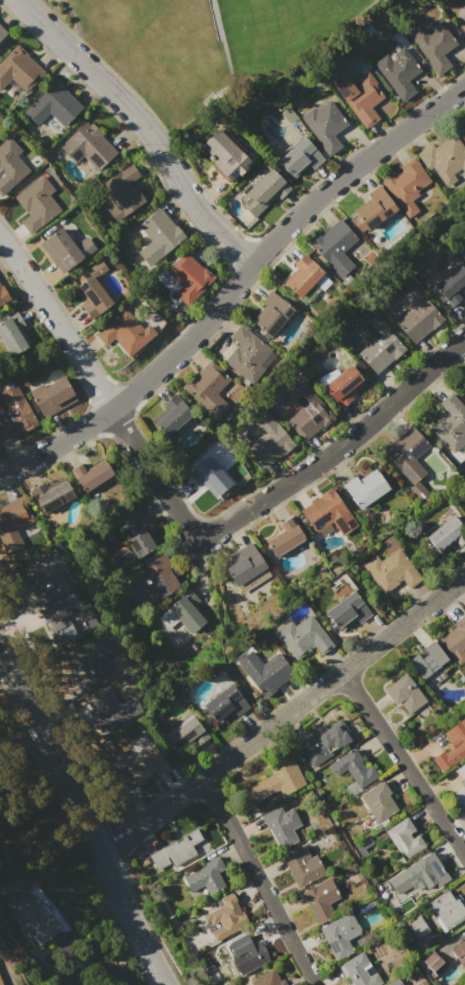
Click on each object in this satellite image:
building: (463, 26)
park: (271, 31)
building: (2, 32)
building: (435, 46)
park: (206, 50)
building: (18, 69)
building: (400, 72)
building: (359, 96)
building: (52, 106)
building: (325, 126)
road: (143, 128)
building: (462, 133)
building: (88, 146)
building: (224, 153)
building: (300, 156)
building: (445, 159)
building: (10, 165)
building: (406, 185)
building: (122, 192)
building: (264, 192)
building: (37, 205)
building: (373, 209)
building: (159, 236)
building: (335, 247)
building: (65, 249)
building: (303, 276)
building: (188, 277)
building: (452, 285)
road: (238, 287)
building: (93, 291)
building: (3, 296)
building: (271, 314)
building: (417, 315)
building: (125, 332)
building: (12, 333)
building: (378, 345)
building: (248, 355)
building: (344, 386)
building: (464, 386)
road: (100, 389)
building: (208, 389)
building: (51, 397)
building: (464, 398)
building: (308, 413)
building: (14, 414)
building: (171, 416)
building: (450, 423)
building: (267, 439)
road: (338, 448)
building: (407, 454)
building: (91, 476)
building: (209, 477)
building: (365, 489)
building: (418, 492)
building: (52, 494)
building: (327, 513)
building: (13, 523)
building: (137, 534)
building: (445, 534)
building: (286, 537)
building: (245, 568)
building: (392, 571)
building: (161, 573)
building: (47, 578)
building: (187, 611)
building: (346, 611)
building: (64, 620)
building: (303, 637)
building: (455, 642)
building: (426, 661)
building: (93, 665)
building: (265, 672)
building: (404, 693)
building: (224, 704)
building: (114, 706)
road: (285, 719)
building: (183, 733)
building: (324, 742)
building: (452, 747)
road: (405, 763)
building: (145, 765)
building: (353, 768)
building: (276, 782)
building: (461, 785)
building: (378, 801)
road: (85, 820)
building: (281, 826)
building: (404, 837)
building: (180, 851)
building: (302, 865)
building: (418, 874)
building: (206, 877)
road: (260, 882)
building: (320, 900)
building: (446, 909)
building: (31, 917)
building: (226, 918)
building: (418, 926)
building: (339, 935)
building: (459, 953)
road: (90, 954)
building: (248, 957)
building: (431, 961)
building: (359, 970)
building: (268, 979)
building: (0, 982)

